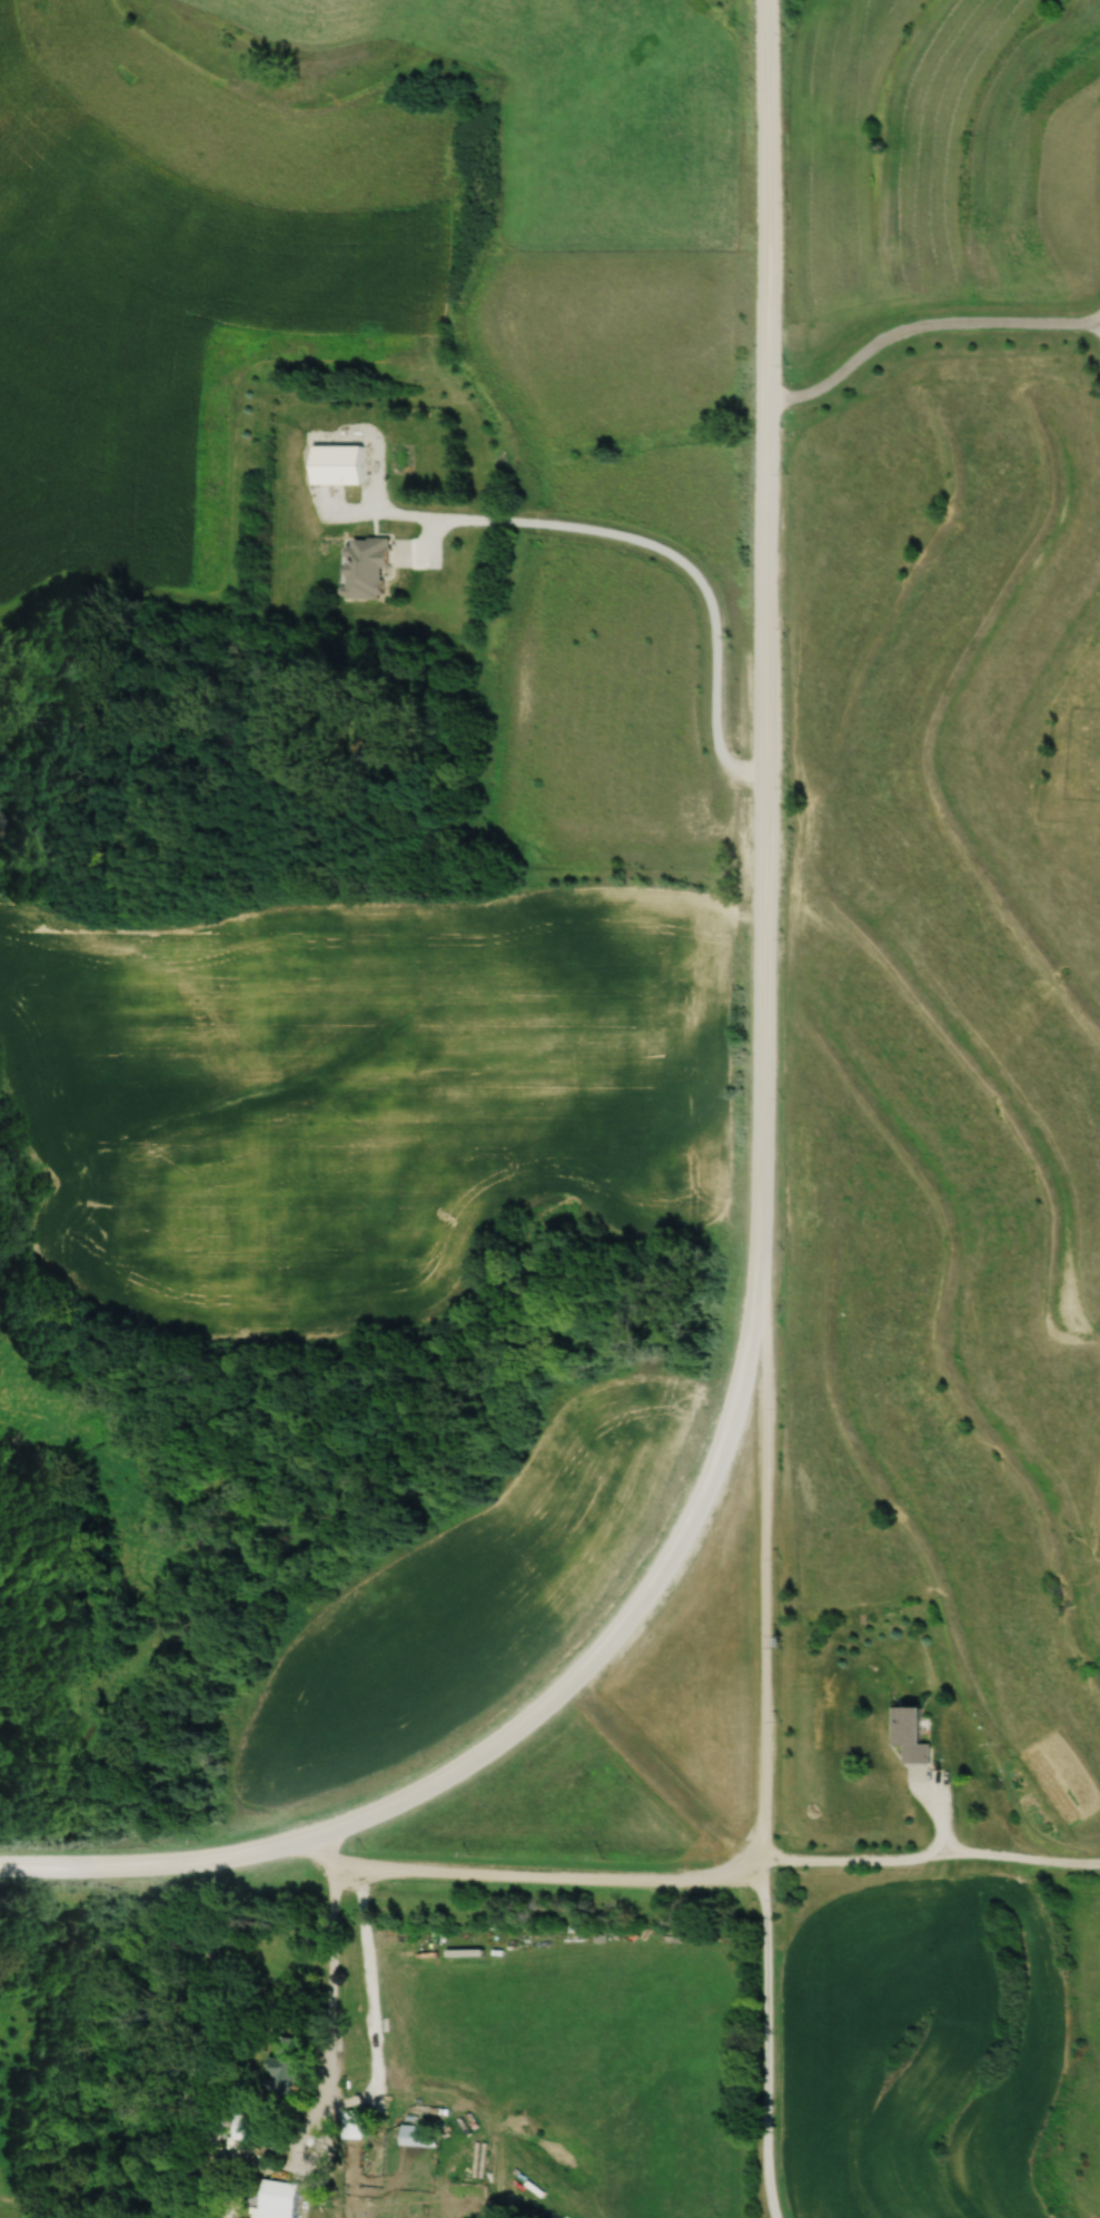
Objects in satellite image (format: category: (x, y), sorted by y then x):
road: (923, 326)
building: (346, 464)
road: (641, 549)
building: (370, 569)
road: (761, 1110)
road: (515, 1723)
building: (919, 1734)
road: (929, 1850)
road: (531, 1865)
building: (538, 1971)
road: (325, 2025)
building: (297, 2068)
building: (285, 2198)

